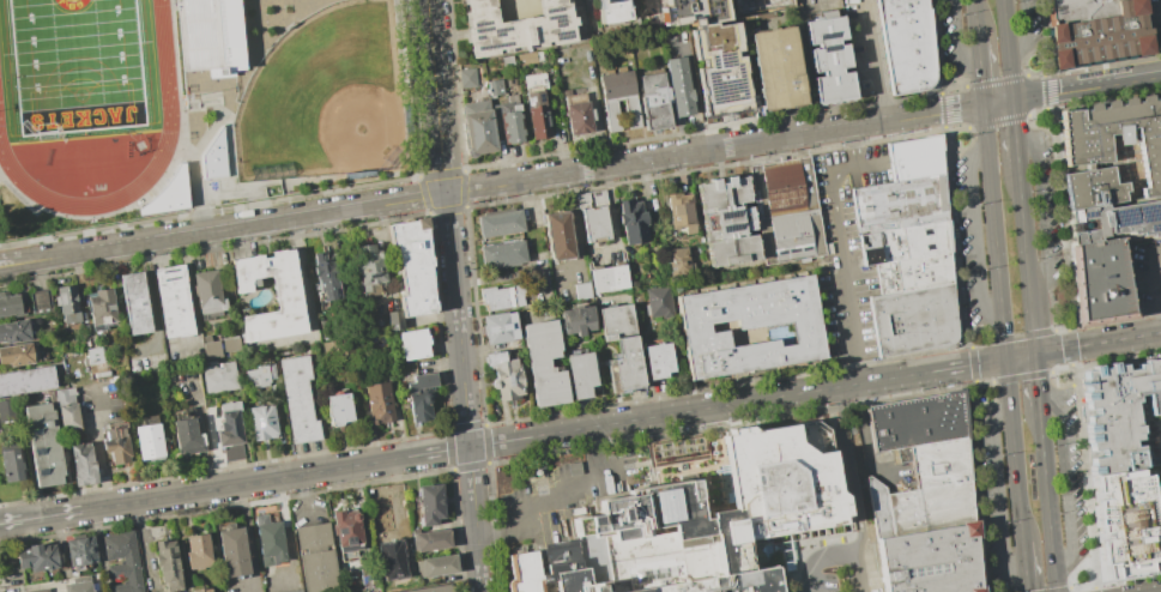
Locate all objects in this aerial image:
building: (756, 5)
rooftop solar panel: (555, 10)
building: (1080, 10)
rooftop solar panel: (546, 11)
building: (610, 11)
rooftop solar panel: (548, 18)
road: (975, 18)
rooftop solar panel: (556, 20)
parking lot: (1155, 22)
rooftop solar panel: (480, 23)
rooftop solar panel: (482, 29)
building: (518, 29)
road: (1027, 30)
rooftop solar panel: (498, 31)
building: (208, 34)
rooftop solar panel: (561, 35)
rooftop solar panel: (826, 35)
rooftop solar panel: (478, 36)
road: (960, 36)
building: (1103, 36)
road: (1048, 38)
rooftop solar panel: (492, 46)
building: (906, 46)
rooftop solar panel: (828, 47)
road: (939, 48)
road: (1008, 48)
building: (710, 53)
building: (528, 58)
rooftop solar panel: (725, 60)
building: (829, 60)
building: (507, 61)
rooftop solar panel: (712, 61)
park: (75, 64)
building: (776, 68)
road: (980, 70)
road: (1036, 73)
building: (467, 78)
road: (997, 79)
building: (510, 80)
road: (1105, 83)
road: (1047, 85)
road: (957, 86)
building: (495, 87)
building: (678, 87)
rooftop solar panel: (722, 90)
track: (168, 92)
road: (435, 96)
stadium: (102, 97)
rooftop solar panel: (540, 97)
park: (326, 98)
building: (619, 98)
traffic signals: (1012, 98)
road: (1048, 99)
rooftop solar panel: (530, 101)
building: (654, 101)
road: (998, 101)
road: (949, 103)
building: (536, 104)
traffic signals: (984, 104)
building: (578, 110)
road: (1038, 113)
road: (950, 117)
building: (512, 121)
road: (997, 121)
building: (479, 127)
road: (961, 128)
road: (1015, 134)
road: (697, 151)
building: (1112, 151)
building: (212, 157)
building: (914, 157)
rooftop solar panel: (924, 192)
building: (169, 195)
rooftop solar panel: (907, 197)
building: (896, 199)
road: (1044, 206)
building: (785, 210)
rooftop solar panel: (907, 210)
rooftop solar panel: (925, 210)
rooftop solar panel: (1147, 212)
building: (681, 213)
rooftop solar panel: (726, 216)
building: (594, 217)
rooftop solar panel: (1086, 217)
rooftop solar panel: (1125, 217)
road: (1065, 218)
building: (1114, 221)
building: (633, 222)
building: (726, 222)
building: (500, 223)
building: (900, 223)
road: (229, 226)
rooftop solar panel: (730, 229)
rooftop solar panel: (1155, 230)
road: (579, 231)
road: (978, 231)
road: (994, 231)
rooftop solar panel: (926, 232)
building: (558, 235)
road: (953, 237)
building: (902, 242)
rooftop solar panel: (930, 247)
road: (841, 252)
parking lot: (846, 252)
building: (502, 255)
building: (677, 261)
road: (1027, 261)
road: (7, 262)
building: (413, 267)
building: (912, 272)
parking lot: (1148, 274)
building: (325, 276)
rooftop solar panel: (373, 276)
building: (377, 276)
building: (609, 278)
building: (1099, 282)
road: (1155, 285)
building: (334, 288)
building: (582, 290)
building: (216, 296)
building: (502, 297)
building: (296, 298)
building: (38, 301)
building: (659, 302)
building: (47, 304)
building: (180, 306)
building: (73, 308)
building: (143, 308)
building: (12, 310)
building: (108, 313)
road: (458, 319)
building: (912, 319)
building: (393, 320)
building: (578, 320)
building: (748, 326)
building: (500, 327)
road: (1059, 328)
building: (326, 332)
road: (1018, 334)
building: (20, 337)
road: (1070, 339)
road: (1115, 340)
road: (979, 342)
building: (229, 344)
building: (236, 348)
building: (622, 348)
building: (211, 349)
building: (421, 349)
building: (217, 352)
road: (1038, 352)
traffic signals: (1035, 354)
road: (1071, 355)
road: (972, 356)
building: (99, 357)
building: (22, 358)
building: (658, 360)
traffic signals: (1006, 360)
building: (544, 362)
road: (990, 362)
road: (1060, 370)
road: (973, 371)
building: (581, 374)
building: (504, 375)
building: (255, 376)
road: (1020, 376)
building: (224, 380)
building: (87, 382)
road: (985, 383)
road: (1036, 383)
building: (30, 385)
road: (1068, 391)
building: (427, 399)
building: (66, 400)
building: (303, 404)
road: (721, 405)
building: (385, 406)
building: (8, 410)
building: (346, 413)
building: (1123, 416)
building: (915, 419)
building: (75, 421)
building: (268, 427)
building: (229, 428)
rooftop solar panel: (34, 436)
building: (147, 437)
building: (194, 442)
building: (48, 445)
building: (157, 448)
road: (1012, 451)
rooftop solar panel: (40, 452)
building: (123, 458)
building: (92, 465)
building: (16, 466)
road: (849, 472)
rooftop solar panel: (43, 473)
road: (1088, 476)
road: (274, 477)
road: (1068, 482)
rooftop solar panel: (754, 484)
road: (976, 485)
building: (925, 490)
road: (1000, 493)
road: (554, 496)
road: (1047, 502)
building: (743, 505)
building: (436, 511)
rooftop solar panel: (792, 511)
building: (382, 514)
road: (41, 517)
road: (397, 518)
road: (476, 519)
building: (1127, 520)
building: (353, 537)
building: (318, 540)
building: (435, 545)
building: (276, 549)
building: (196, 550)
building: (85, 552)
road: (839, 556)
building: (205, 557)
building: (240, 557)
building: (43, 560)
building: (930, 560)
building: (127, 562)
building: (435, 566)
road: (1024, 566)
building: (176, 568)
road: (811, 570)
building: (447, 572)
building: (561, 572)
building: (323, 574)
road: (855, 574)
building: (78, 585)
road: (1080, 586)
building: (433, 588)
building: (34, 590)
road: (1058, 590)
building: (295, 591)
road: (1092, 591)

